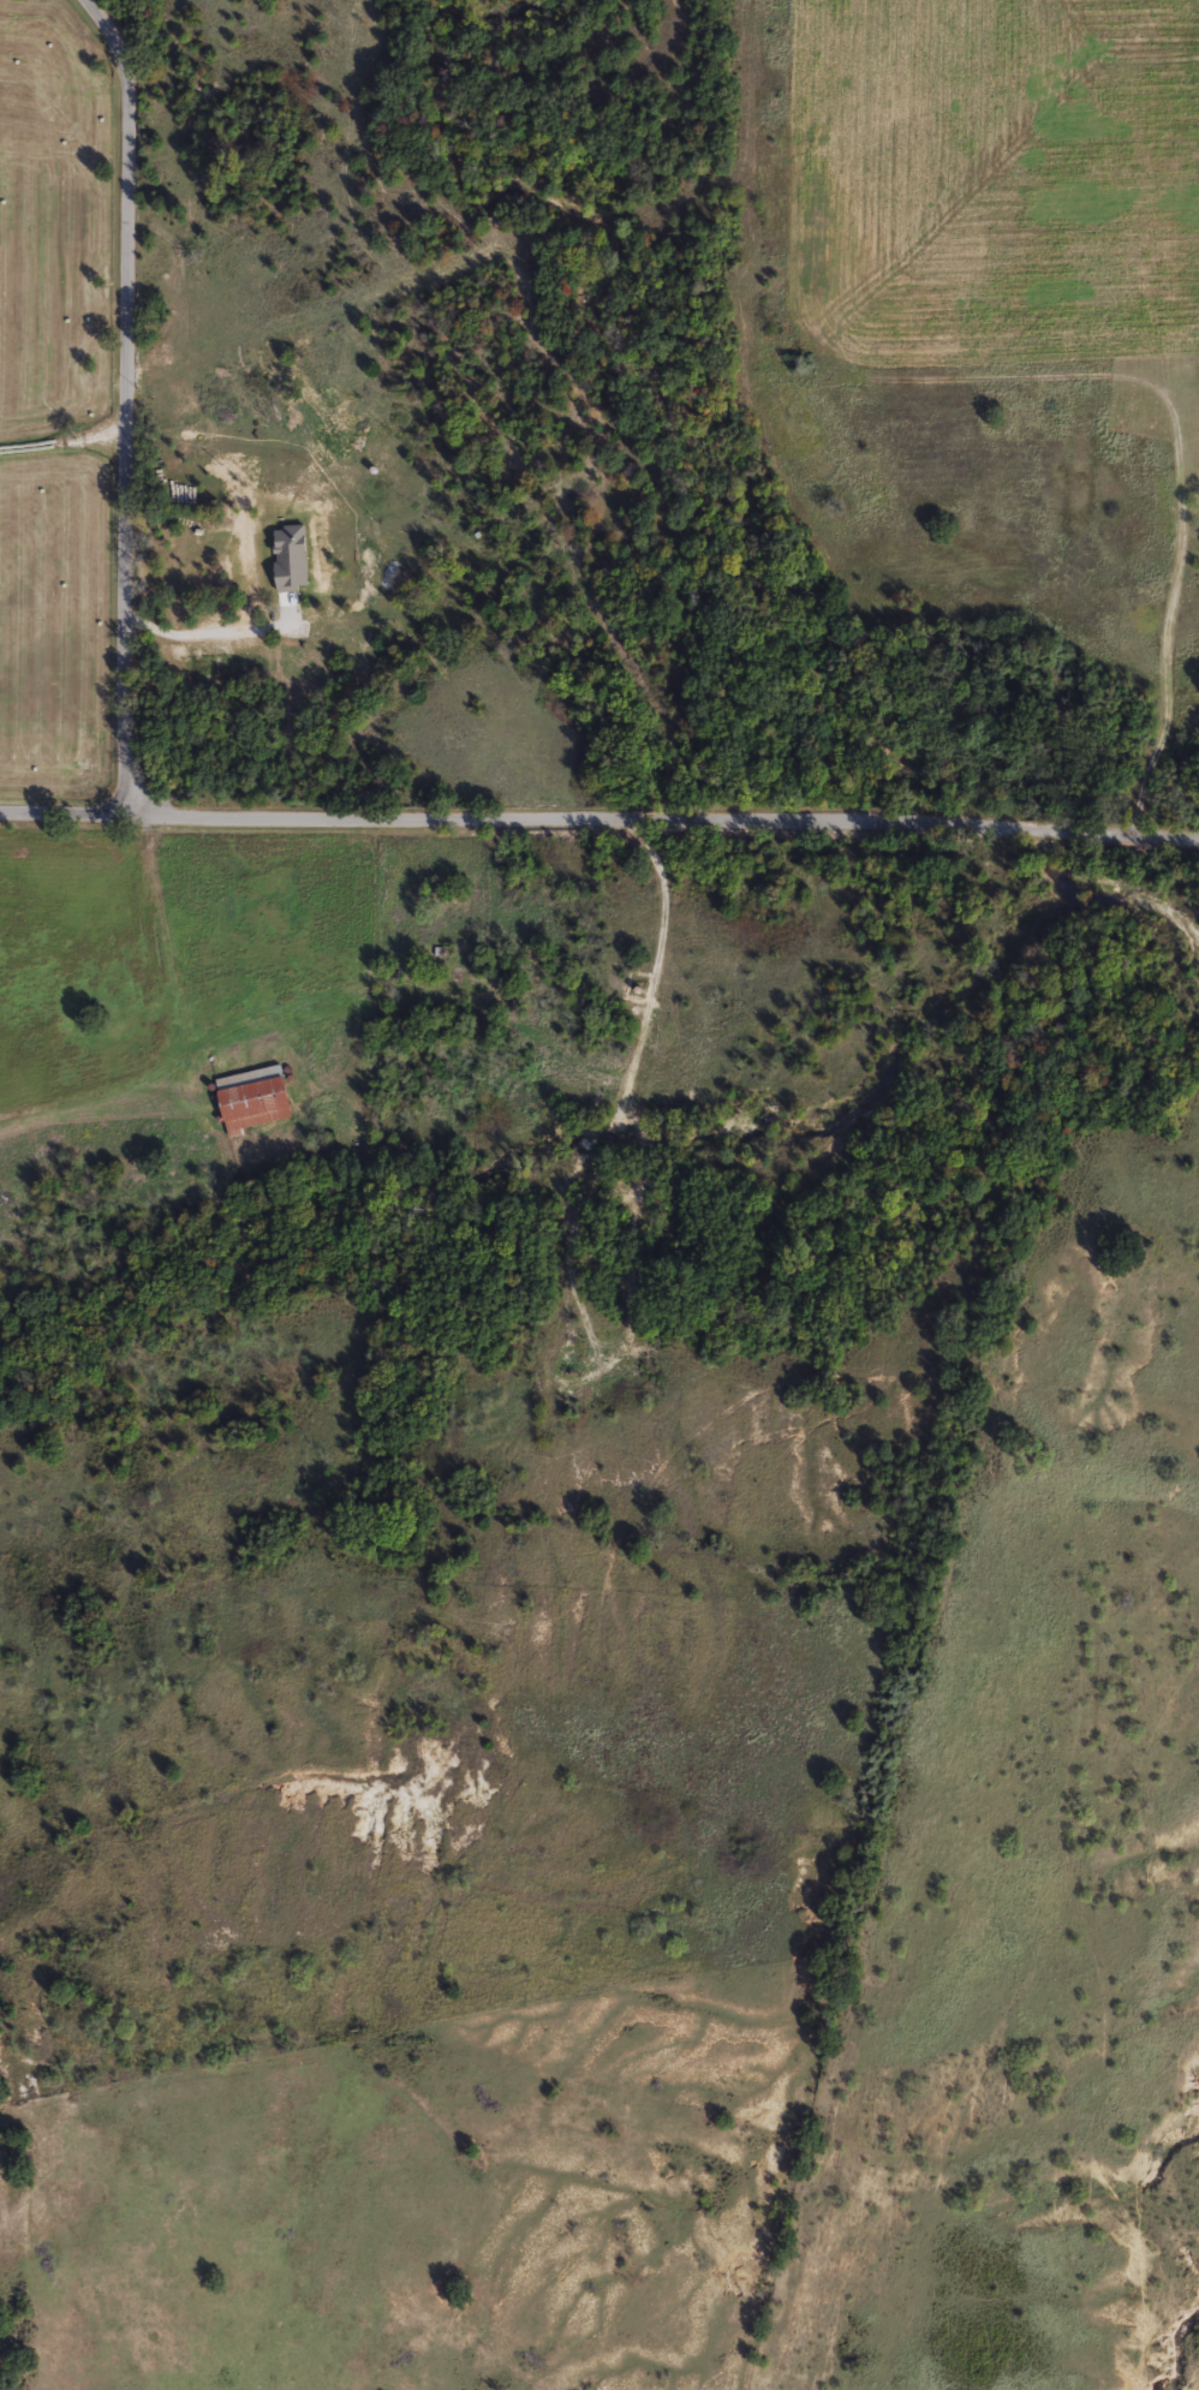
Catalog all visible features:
road: (119, 400)
building: (183, 549)
road: (204, 633)
road: (62, 807)
road: (662, 818)
building: (250, 1099)

